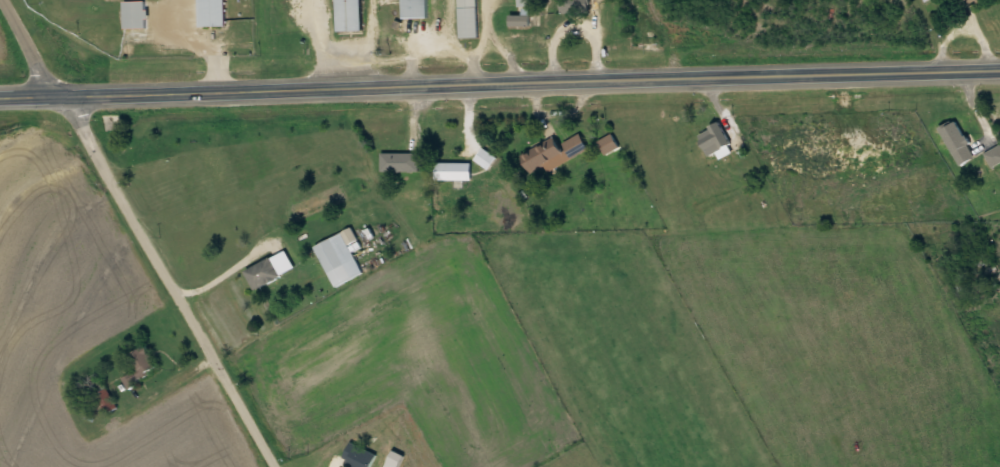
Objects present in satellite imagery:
building: (964, 3)
building: (576, 7)
building: (416, 8)
building: (211, 13)
building: (523, 13)
building: (134, 14)
building: (351, 15)
building: (468, 18)
road: (500, 82)
building: (716, 141)
building: (958, 142)
building: (553, 153)
building: (994, 156)
building: (485, 158)
building: (400, 162)
building: (454, 170)
road: (141, 233)
building: (340, 257)
building: (270, 270)
building: (141, 366)
building: (102, 393)
building: (359, 456)

